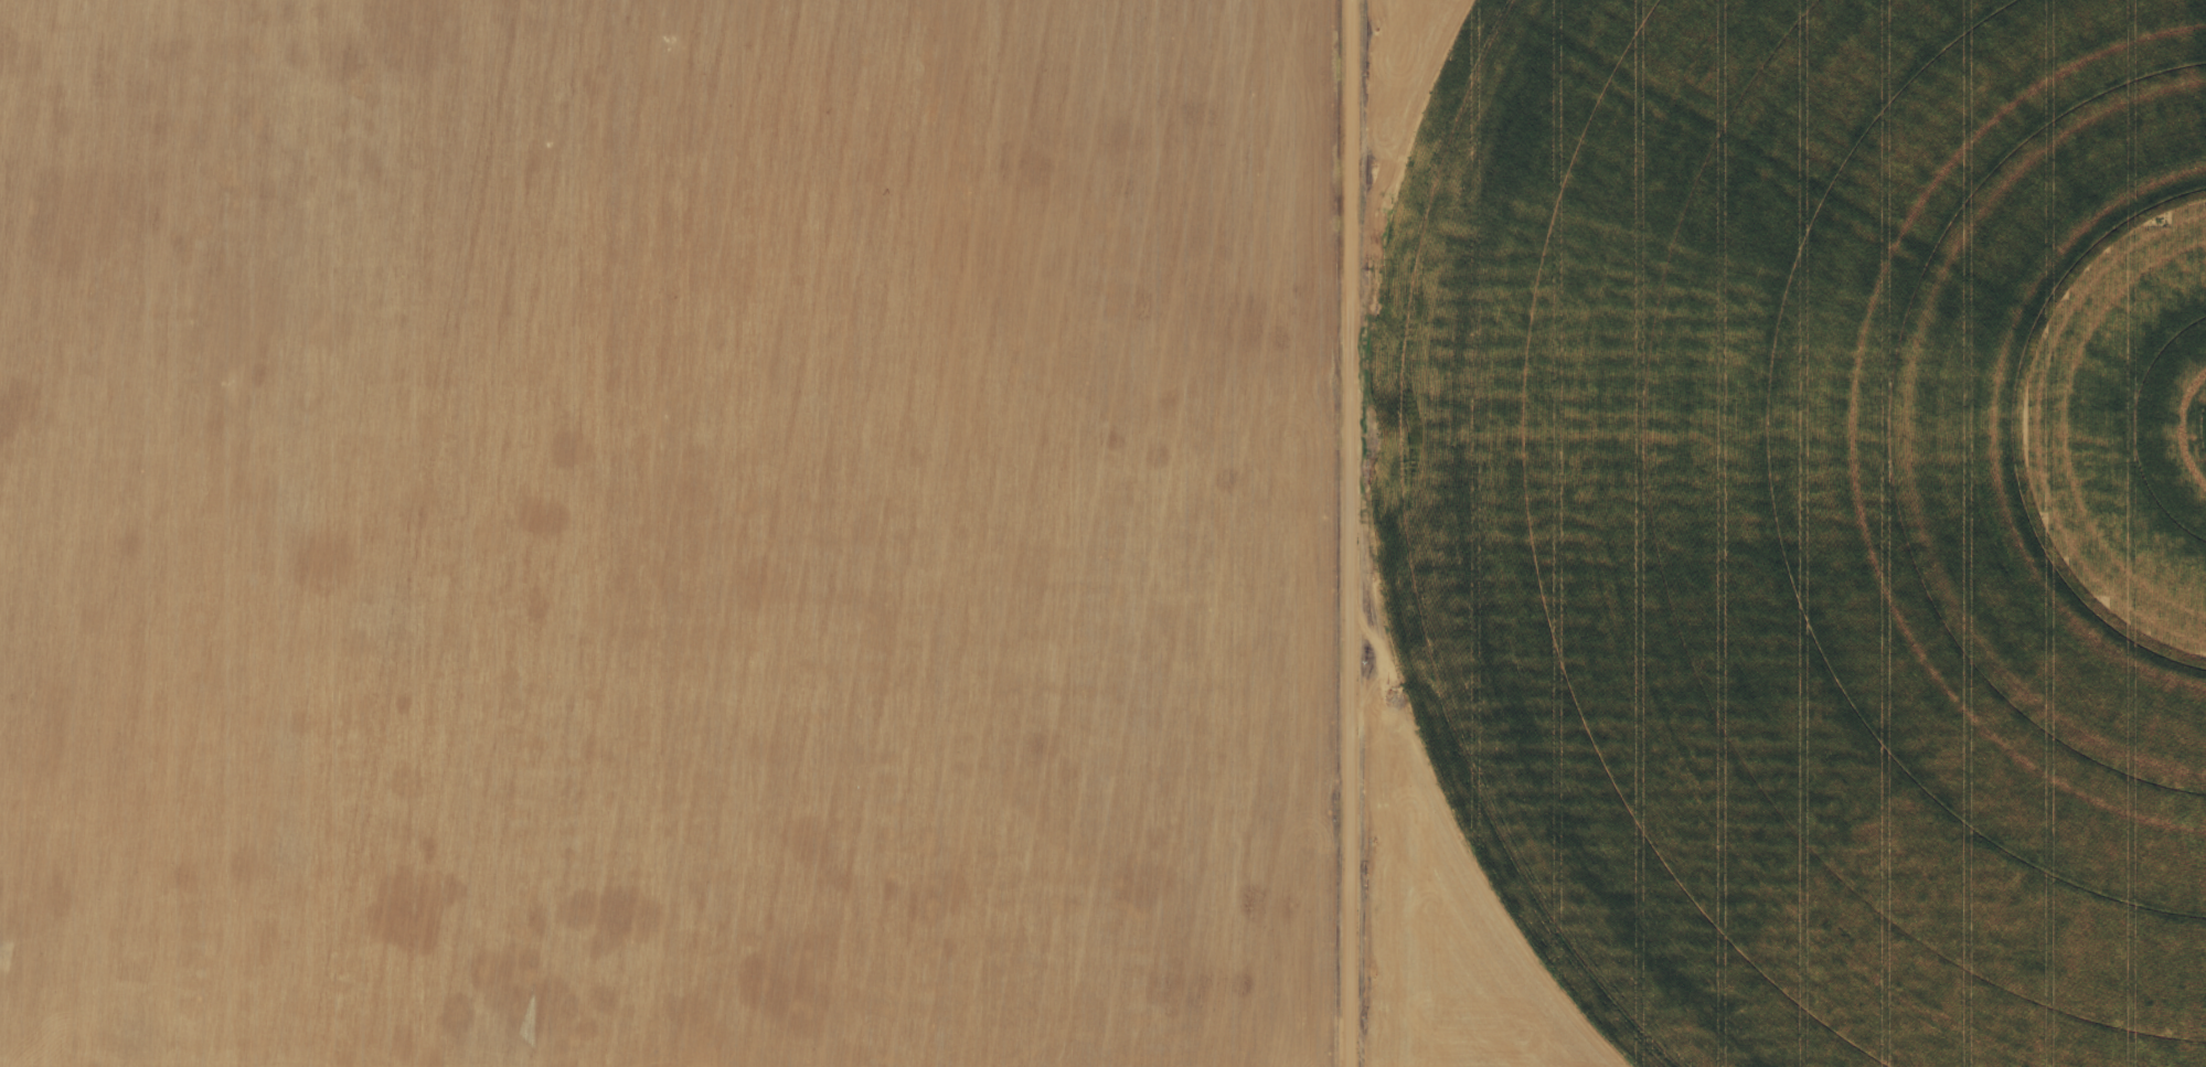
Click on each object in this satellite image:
road: (1350, 533)

